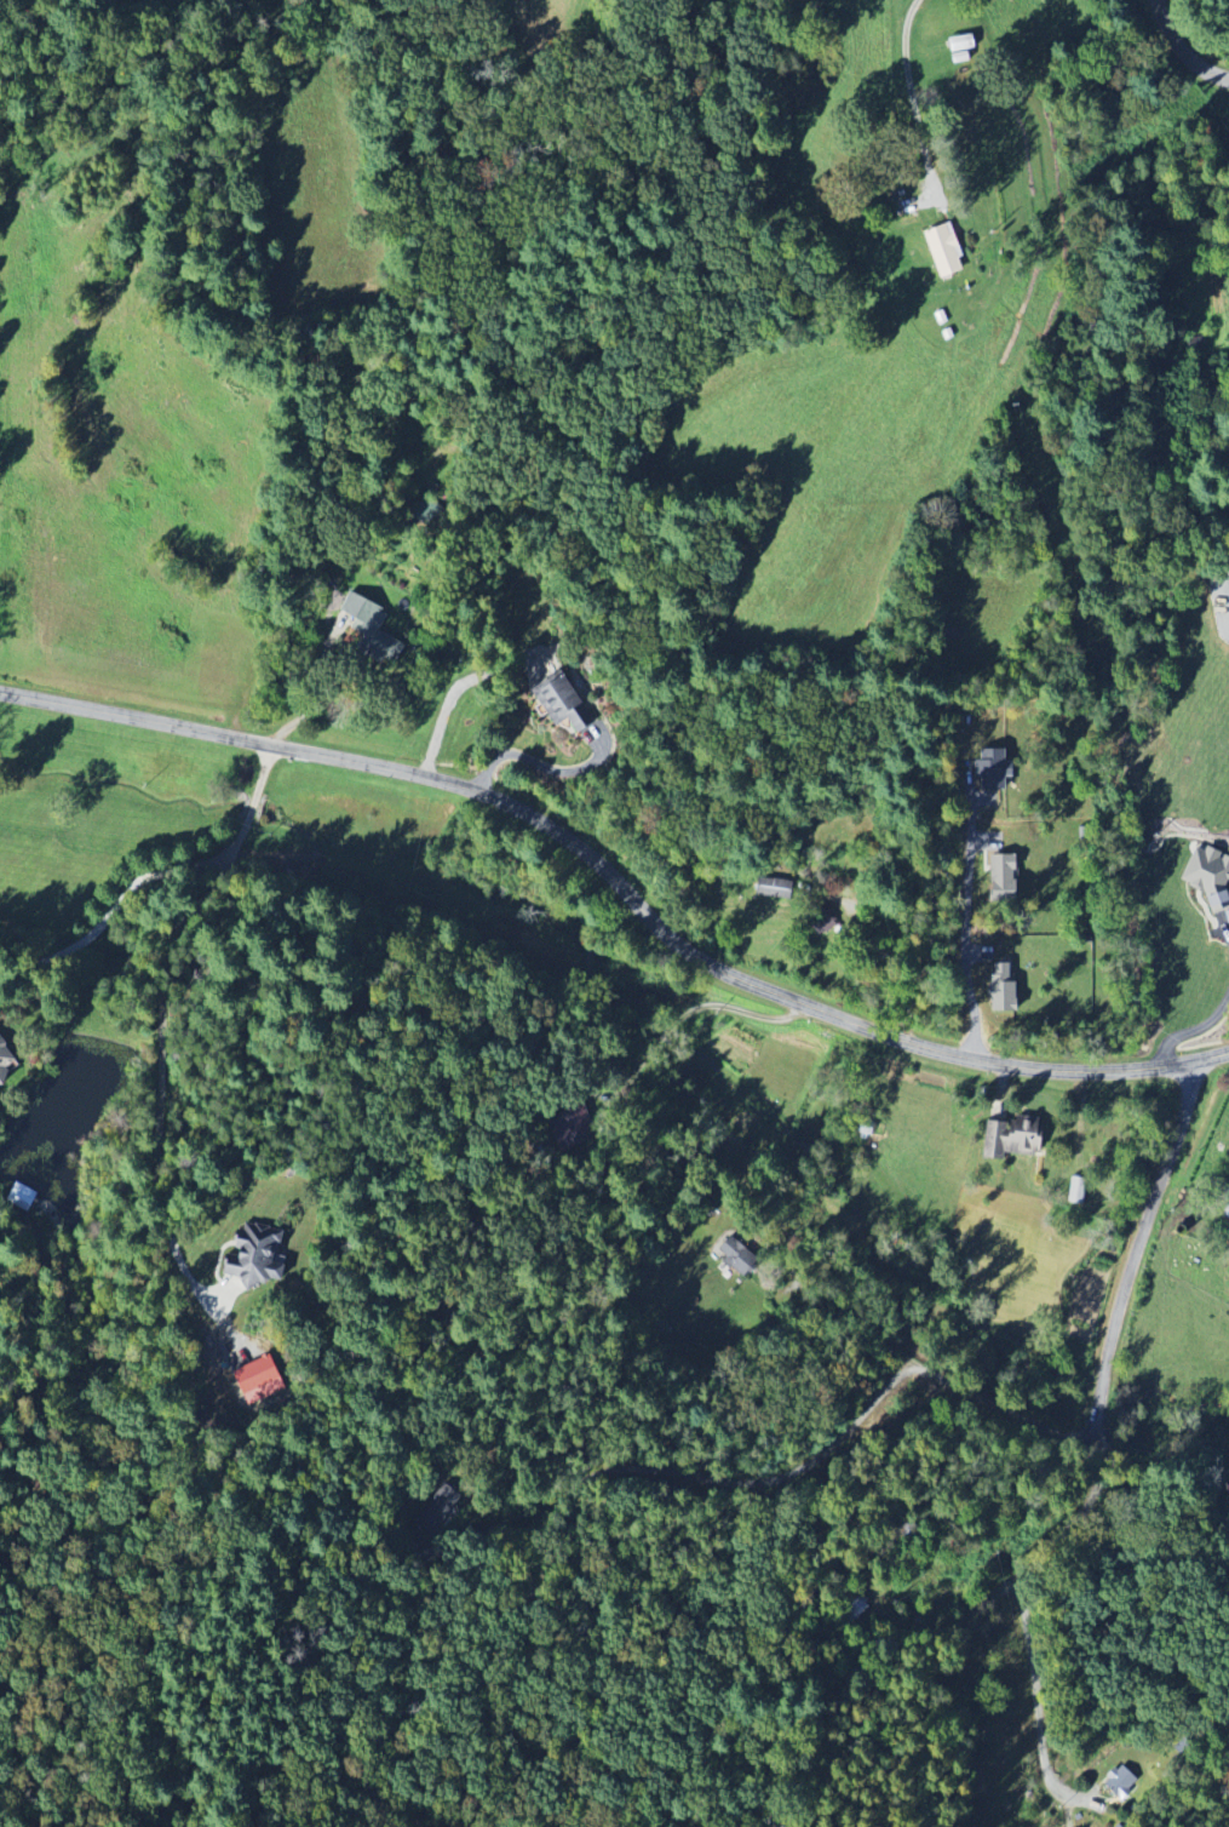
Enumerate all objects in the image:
road: (1182, 52)
road: (888, 74)
building: (947, 250)
building: (373, 629)
road: (321, 699)
building: (564, 704)
road: (536, 762)
building: (1211, 874)
building: (1005, 877)
road: (620, 887)
building: (774, 889)
road: (934, 906)
road: (109, 911)
road: (965, 938)
building: (1005, 990)
road: (161, 1010)
road: (683, 1016)
road: (1189, 1030)
building: (6, 1063)
building: (1016, 1136)
building: (1078, 1190)
building: (1228, 1218)
building: (259, 1258)
building: (736, 1258)
road: (865, 1324)
road: (1110, 1353)
building: (260, 1380)
road: (800, 1471)
road: (1036, 1688)
building: (1121, 1781)

